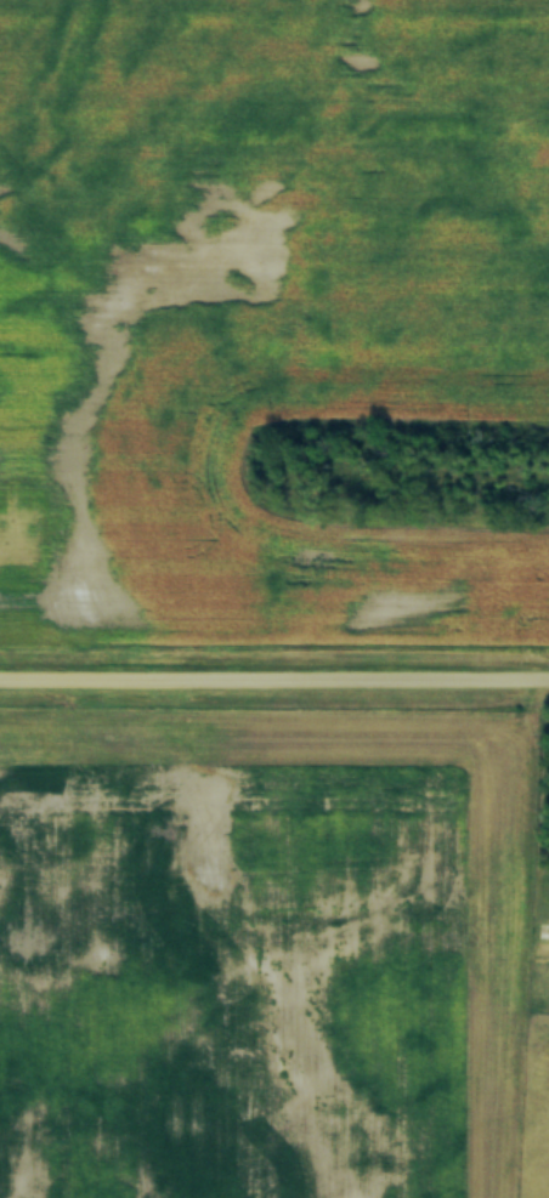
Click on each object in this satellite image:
road: (274, 679)

